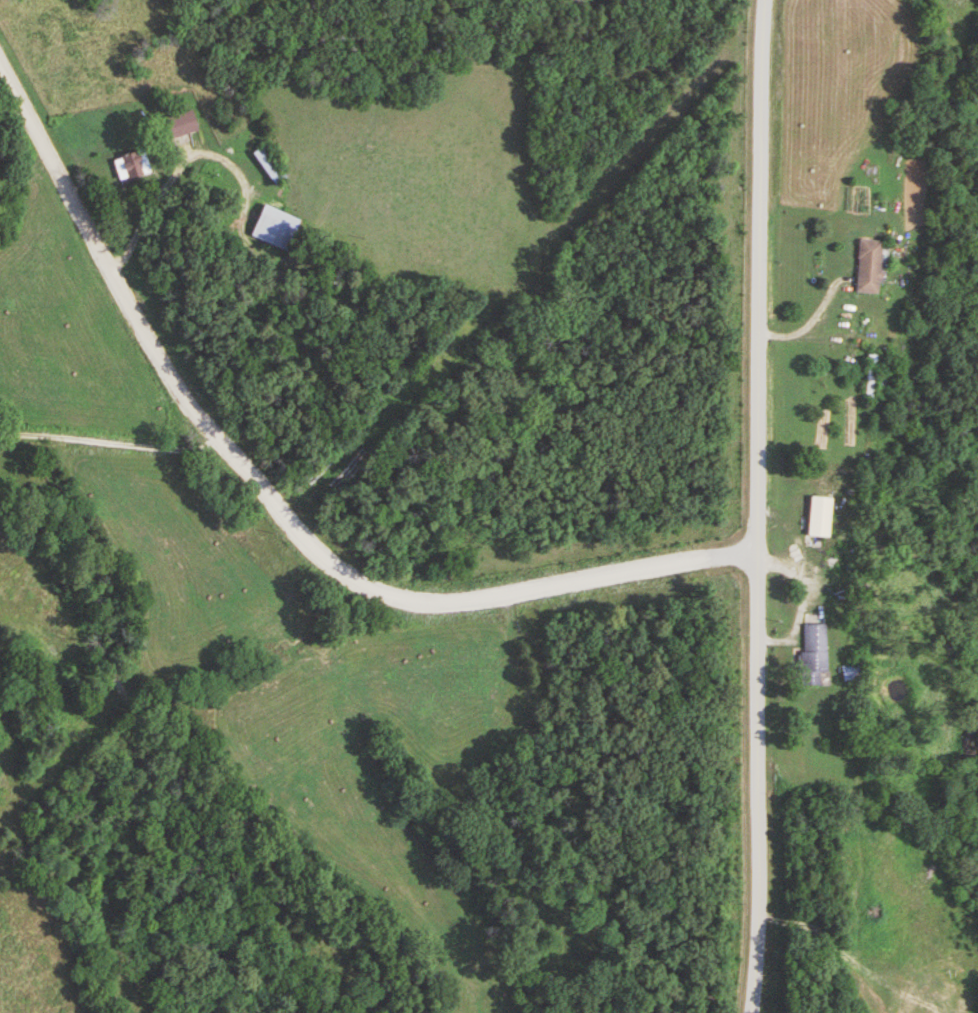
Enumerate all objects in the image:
building: (181, 125)
building: (270, 165)
building: (131, 167)
building: (275, 228)
building: (867, 268)
road: (804, 322)
road: (108, 440)
road: (271, 505)
road: (753, 506)
building: (818, 516)
building: (814, 649)

